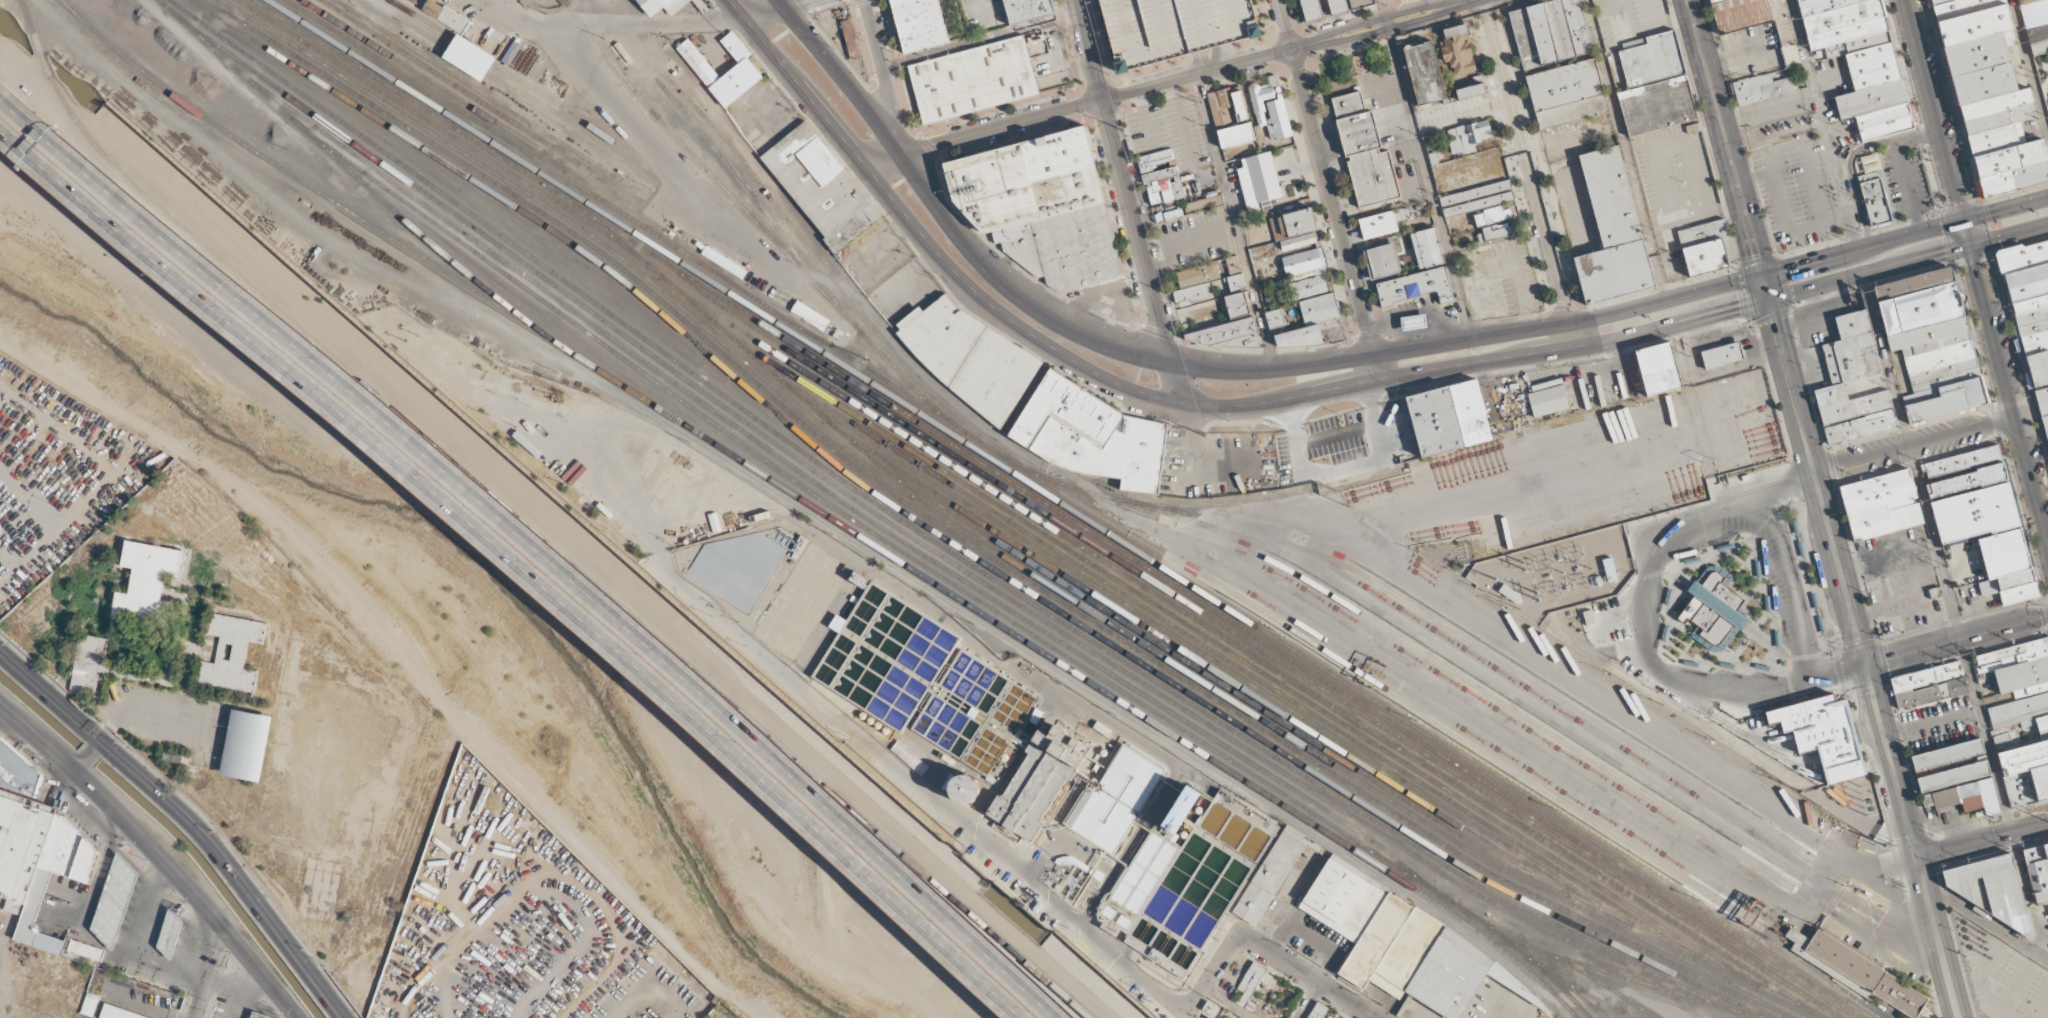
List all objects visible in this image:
railway: (564, 0)
railway: (163, 1)
road: (776, 3)
building: (1359, 3)
building: (1946, 3)
building: (664, 5)
railway: (548, 6)
building: (702, 6)
building: (1337, 6)
railway: (215, 8)
road: (773, 8)
road: (734, 9)
building: (1029, 9)
building: (1311, 9)
road: (1208, 22)
building: (921, 23)
building: (2035, 23)
building: (1972, 25)
building: (1175, 27)
road: (1348, 33)
building: (1551, 33)
building: (1757, 38)
building: (1456, 49)
road: (1089, 50)
building: (1977, 53)
road: (1218, 56)
building: (473, 57)
building: (1645, 61)
building: (1859, 61)
road: (2030, 66)
building: (745, 69)
building: (1425, 73)
road: (883, 77)
building: (974, 78)
railway: (517, 79)
railway: (428, 80)
railway: (451, 82)
road: (1161, 84)
building: (1983, 84)
building: (1763, 88)
railway: (514, 91)
building: (1472, 91)
building: (1567, 94)
railway: (491, 98)
building: (1240, 105)
building: (1657, 106)
building: (1218, 107)
building: (1270, 109)
road: (1935, 110)
building: (1996, 111)
road: (983, 131)
railway: (310, 134)
building: (1235, 135)
building: (1469, 136)
road: (1723, 138)
building: (1994, 139)
building: (1364, 151)
railway: (509, 157)
building: (1433, 158)
building: (2009, 158)
building: (1158, 165)
building: (1869, 168)
road: (1530, 172)
building: (1258, 177)
building: (2013, 178)
railway: (718, 180)
building: (821, 185)
road: (1329, 189)
building: (1477, 198)
building: (1612, 198)
railway: (775, 202)
building: (1876, 202)
traffic signals: (1960, 202)
building: (1204, 203)
building: (1045, 207)
road: (2006, 209)
building: (1169, 211)
building: (1492, 214)
traffic signals: (1989, 214)
building: (1293, 223)
building: (1381, 223)
road: (946, 226)
building: (1498, 230)
railway: (608, 231)
road: (1967, 232)
road: (1137, 234)
road: (2009, 234)
building: (1297, 241)
railway: (402, 244)
building: (1704, 246)
building: (1427, 247)
road: (1862, 248)
railway: (524, 251)
traffic signals: (1942, 251)
traffic signals: (1755, 254)
railway: (696, 260)
building: (1381, 260)
building: (1301, 261)
building: (1232, 263)
railway: (527, 265)
traffic signals: (1977, 266)
traffic signals: (1788, 268)
road: (1869, 272)
building: (1616, 273)
building: (1197, 274)
railway: (531, 281)
building: (1236, 282)
building: (1912, 284)
building: (1306, 286)
building: (1391, 286)
road: (1764, 288)
building: (1191, 294)
railway: (503, 302)
building: (2028, 304)
building: (1237, 305)
building: (1418, 307)
building: (1319, 309)
traffic signals: (1738, 309)
building: (1919, 309)
railway: (566, 317)
building: (1274, 318)
road: (1700, 318)
road: (1568, 322)
traffic signals: (1773, 323)
railway: (789, 324)
building: (1223, 332)
building: (1926, 334)
building: (1298, 336)
railway: (1786, 349)
building: (1721, 355)
building: (970, 357)
building: (1939, 362)
building: (1659, 368)
road: (1274, 372)
building: (1844, 377)
road: (1114, 382)
railway: (912, 384)
road: (1180, 385)
road: (1790, 386)
road: (2009, 389)
building: (1548, 400)
building: (1943, 400)
building: (2043, 407)
building: (1449, 418)
building: (1374, 428)
building: (1090, 435)
railway: (847, 437)
road: (1914, 445)
railway: (864, 463)
building: (1962, 471)
parking lot: (58, 477)
road: (103, 479)
road: (1777, 486)
railway: (908, 490)
railway: (795, 494)
railway: (1240, 502)
building: (1880, 506)
railway: (1056, 508)
railway: (1071, 508)
road: (1736, 512)
road: (548, 513)
building: (1974, 514)
railway: (534, 528)
road: (542, 539)
railway: (955, 544)
railway: (984, 553)
building: (2003, 553)
road: (525, 554)
road: (1935, 554)
road: (1838, 568)
building: (1609, 569)
river: (487, 574)
road: (1766, 576)
railway: (1638, 580)
building: (146, 584)
road: (1790, 587)
building: (2017, 587)
road: (1648, 595)
building: (1712, 612)
building: (1820, 624)
railway: (1466, 639)
road: (1956, 640)
railway: (1253, 645)
railway: (1227, 647)
road: (405, 648)
railway: (1417, 650)
building: (231, 653)
railway: (1252, 654)
railway: (1213, 656)
railway: (1211, 662)
traffic signals: (1864, 665)
road: (1837, 672)
building: (1926, 676)
railway: (1124, 681)
building: (1957, 687)
road: (1751, 692)
railway: (1291, 697)
building: (1921, 697)
road: (142, 700)
railway: (1417, 707)
railway: (1896, 708)
building: (2021, 714)
parking lot: (154, 717)
parking lot: (0, 728)
road: (166, 729)
railway: (1815, 729)
building: (1823, 734)
road: (109, 736)
traffic signals: (99, 738)
railway: (1764, 738)
railway: (1818, 741)
building: (2004, 741)
road: (96, 742)
building: (247, 743)
park: (247, 743)
railway: (1886, 746)
railway: (1776, 749)
road: (87, 753)
building: (1947, 754)
building: (909, 757)
railway: (1212, 758)
railway: (1838, 760)
road: (1889, 762)
road: (79, 763)
railway: (1239, 763)
railway: (1802, 765)
traffic signals: (77, 766)
road: (897, 766)
railway: (1294, 769)
railway: (1844, 771)
building: (1952, 776)
railway: (1307, 787)
building: (1977, 796)
building: (1182, 798)
building: (1944, 798)
power substation: (1853, 804)
road: (1991, 816)
road: (189, 818)
railway: (1917, 831)
road: (1981, 841)
building: (41, 843)
railway: (1359, 848)
road: (158, 851)
building: (2037, 871)
road: (94, 886)
building: (1991, 891)
railway: (1572, 894)
road: (2026, 896)
road: (596, 900)
building: (106, 907)
gas station: (106, 907)
railway: (1744, 915)
road: (1984, 921)
road: (1935, 935)
road: (1238, 938)
building: (1796, 939)
road: (129, 947)
railway: (1669, 950)
park: (508, 965)
road: (429, 968)
railway: (1540, 969)
building: (1865, 973)
parking lot: (1999, 973)
road: (212, 974)
railway: (1614, 974)
railway: (1641, 982)
road: (237, 987)
railway: (1572, 989)
parking lot: (648, 990)
road: (652, 992)
road: (1309, 1001)
railway: (1598, 1001)
building: (91, 1002)
road: (1226, 1004)
building: (123, 1012)
road: (286, 1014)
road: (1954, 1015)
road: (1957, 1015)

